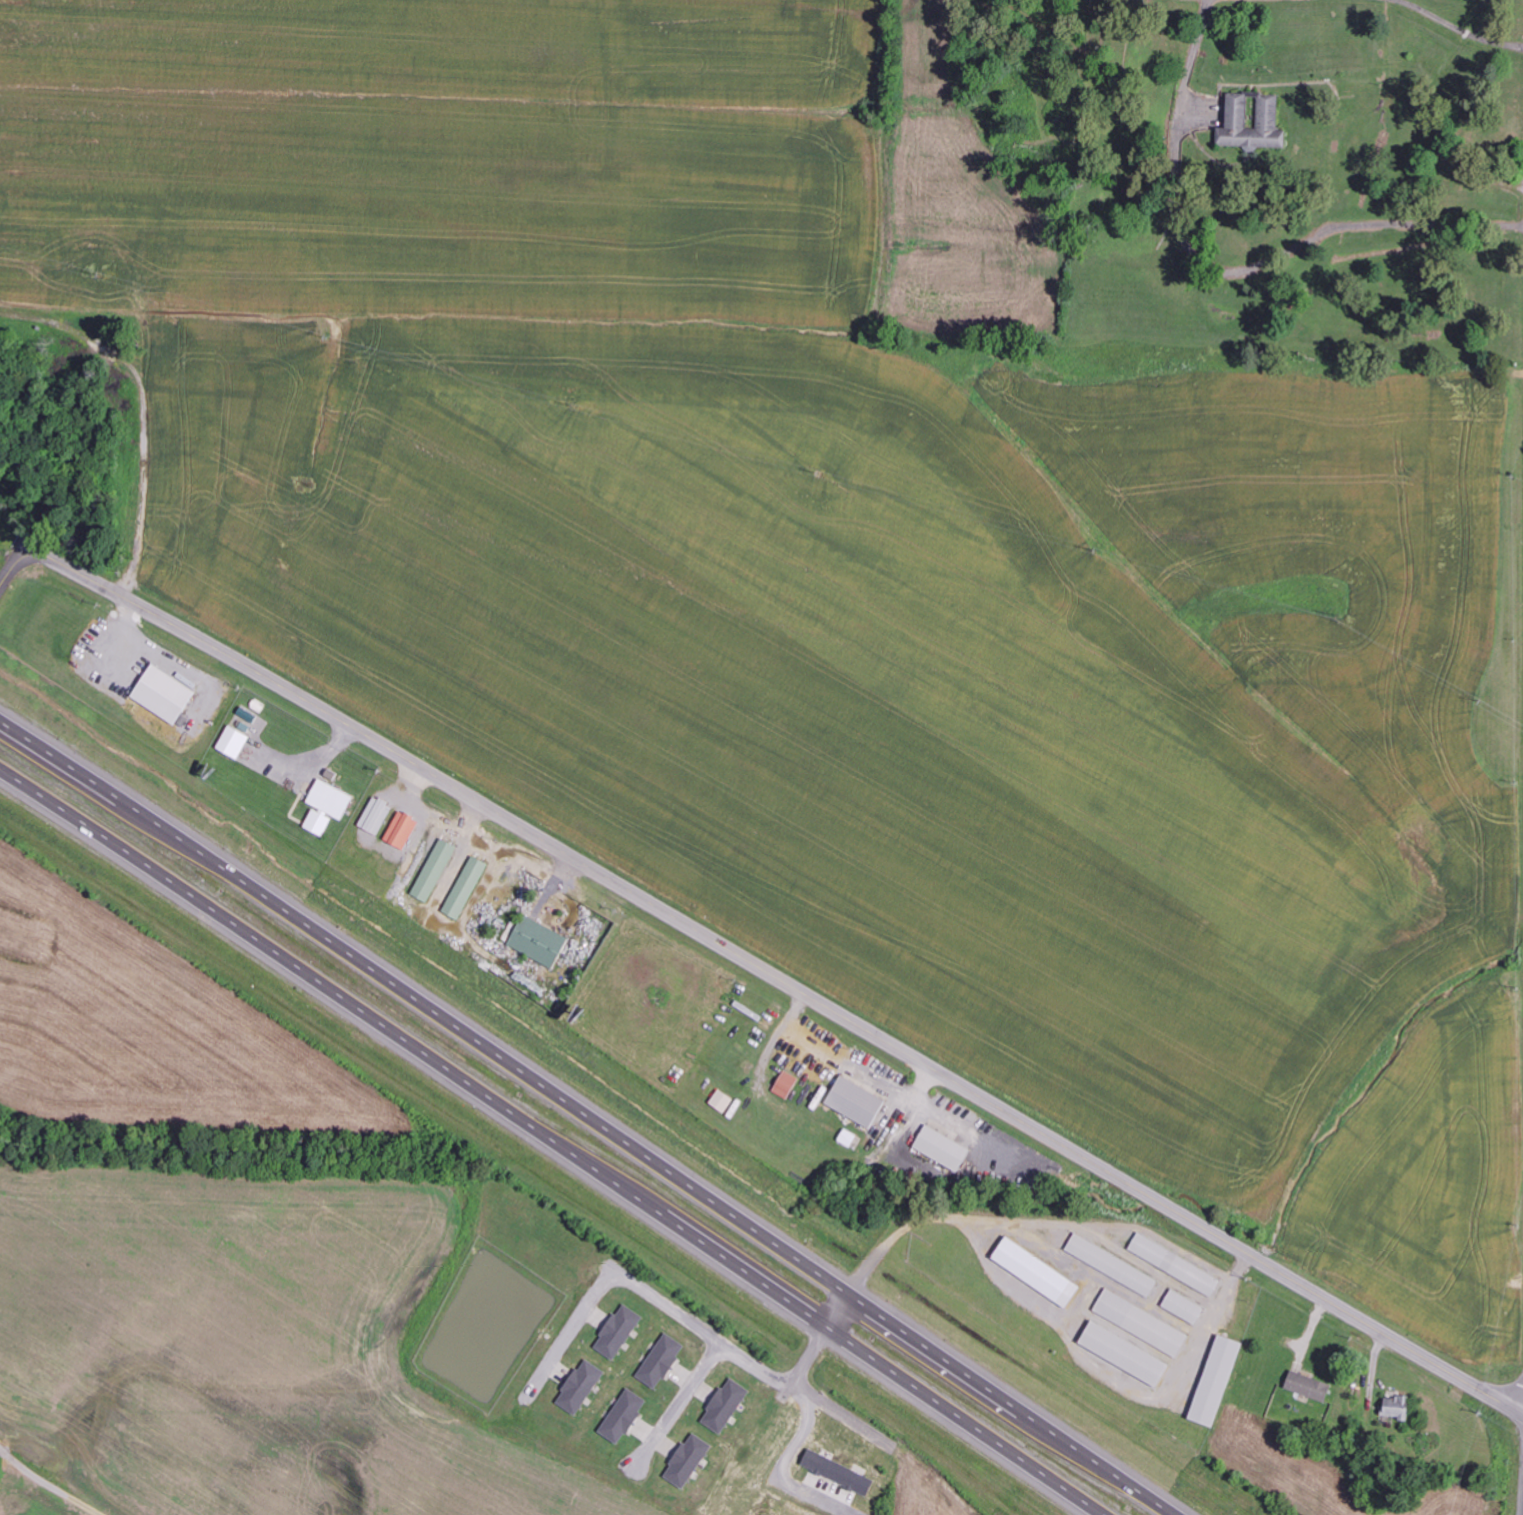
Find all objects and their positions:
road: (1459, 28)
building: (1253, 123)
road: (1231, 266)
building: (165, 693)
building: (234, 742)
building: (327, 806)
building: (376, 815)
building: (402, 830)
building: (435, 870)
building: (466, 887)
building: (539, 941)
road: (756, 966)
building: (786, 1084)
building: (722, 1101)
building: (856, 1101)
road: (588, 1117)
road: (556, 1139)
building: (943, 1148)
building: (1112, 1265)
building: (1176, 1265)
building: (1037, 1272)
building: (1184, 1307)
road: (835, 1308)
building: (1141, 1323)
building: (619, 1331)
building: (1124, 1353)
building: (662, 1361)
building: (1217, 1380)
building: (1309, 1386)
building: (581, 1387)
building: (726, 1406)
building: (1398, 1407)
building: (624, 1416)
building: (688, 1461)
building: (816, 1461)
road: (49, 1483)

